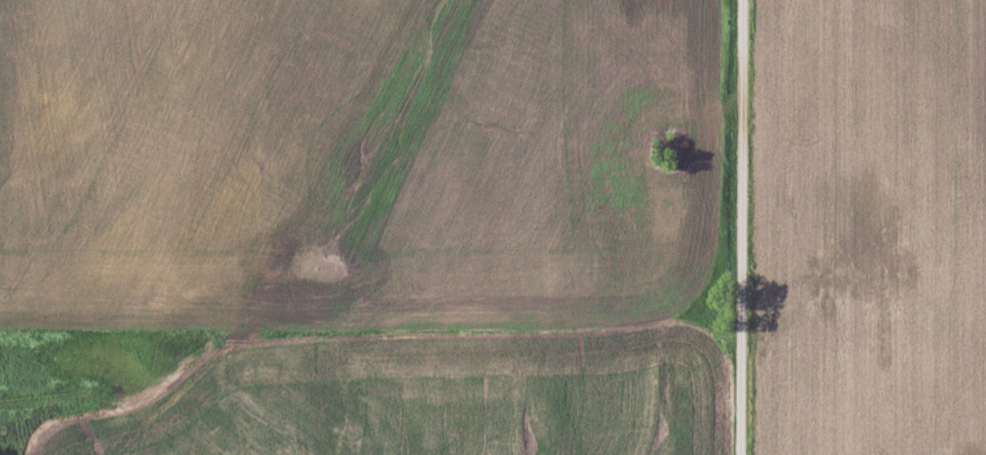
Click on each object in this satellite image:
road: (741, 227)

